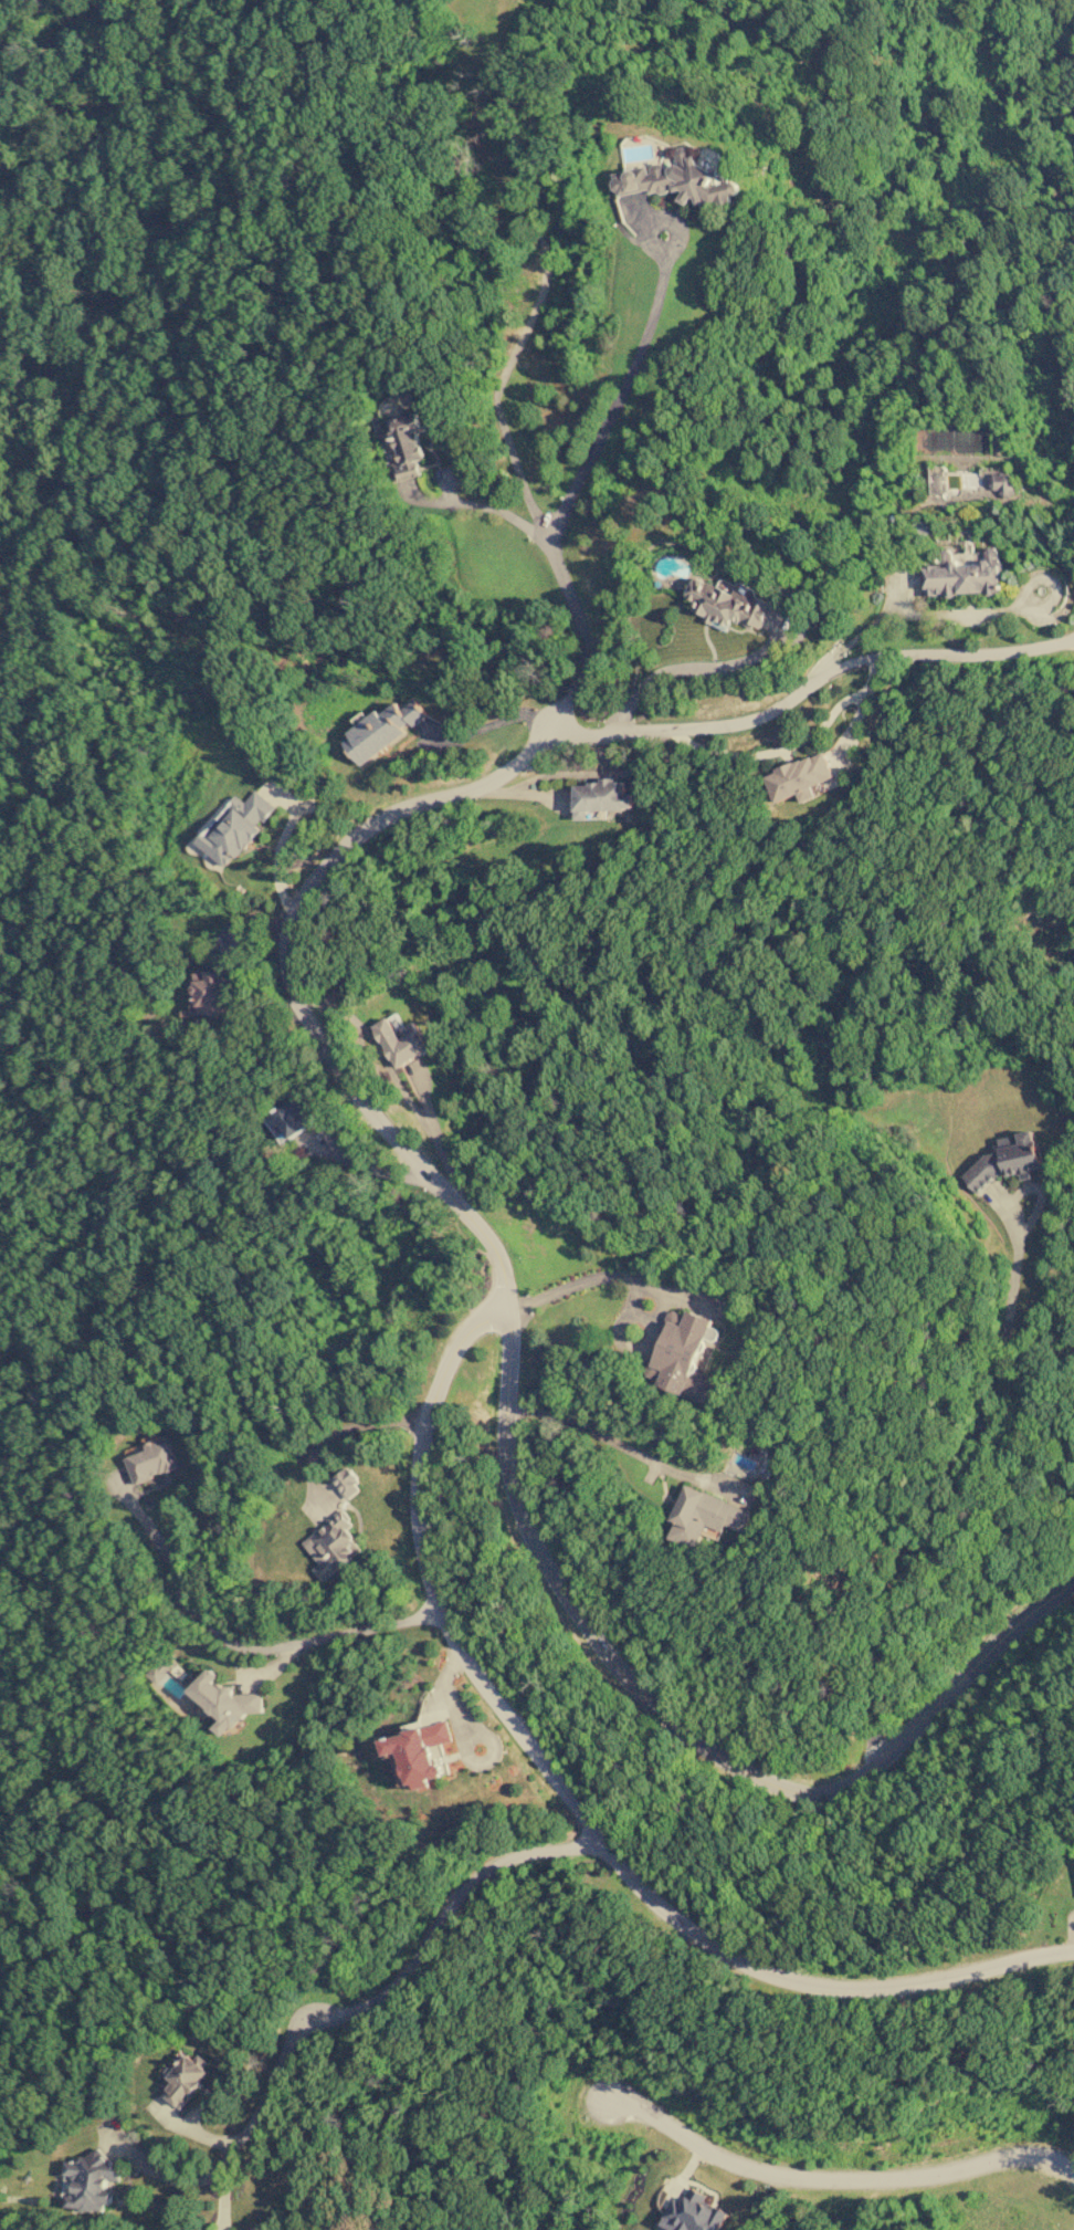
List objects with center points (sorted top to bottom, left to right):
building: (676, 181)
road: (650, 222)
road: (613, 400)
building: (407, 447)
building: (1001, 483)
road: (524, 484)
road: (481, 507)
road: (1067, 573)
road: (1047, 586)
building: (727, 605)
road: (914, 614)
road: (688, 669)
road: (809, 684)
road: (859, 709)
building: (382, 729)
road: (775, 750)
road: (573, 772)
building: (800, 777)
building: (601, 797)
building: (235, 826)
road: (277, 842)
road: (284, 983)
building: (211, 992)
building: (401, 1041)
road: (392, 1077)
building: (292, 1119)
building: (1005, 1160)
road: (369, 1169)
building: (682, 1354)
road: (335, 1431)
road: (966, 1441)
building: (151, 1462)
building: (347, 1483)
building: (704, 1516)
building: (331, 1546)
building: (161, 1668)
building: (225, 1702)
road: (507, 1723)
road: (686, 1734)
building: (418, 1752)
road: (343, 2014)
building: (186, 2080)
building: (88, 2181)
road: (835, 2182)
building: (694, 2213)

